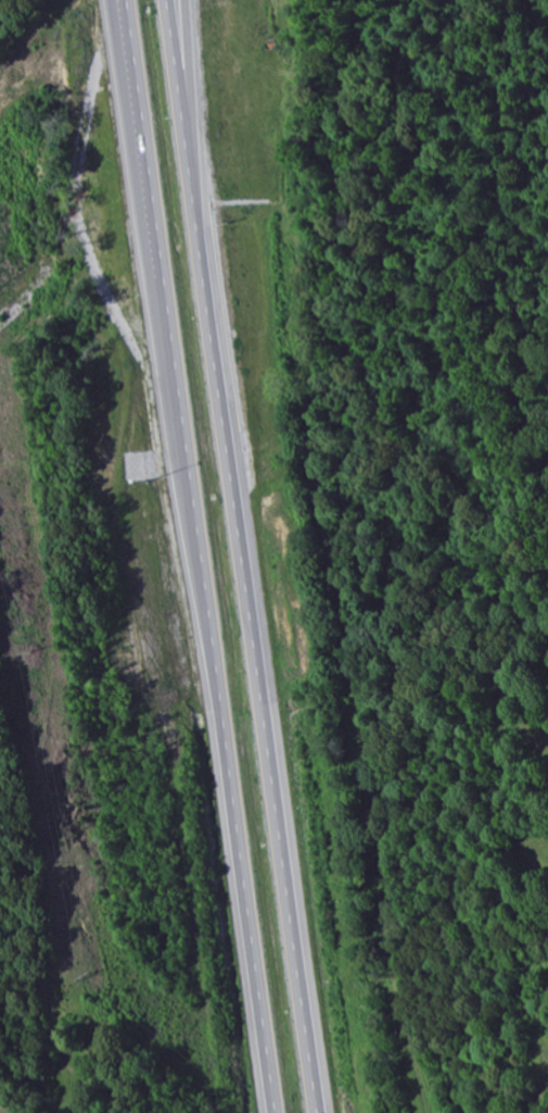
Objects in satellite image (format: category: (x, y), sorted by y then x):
road: (197, 555)
road: (245, 555)
building: (68, 1043)

